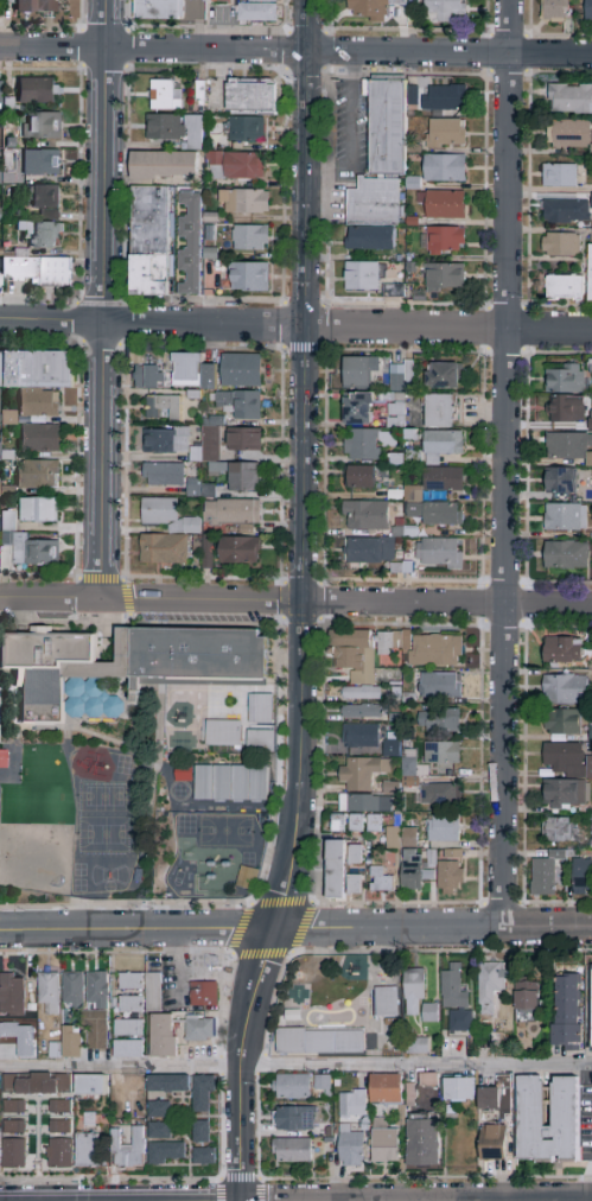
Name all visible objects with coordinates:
building: (216, 0)
building: (396, 0)
building: (5, 1)
building: (37, 6)
building: (158, 9)
building: (369, 9)
building: (444, 9)
building: (588, 9)
building: (257, 11)
building: (556, 11)
road: (295, 52)
building: (38, 90)
building: (166, 96)
building: (252, 97)
building: (443, 99)
building: (571, 99)
building: (42, 126)
building: (388, 127)
building: (176, 128)
building: (246, 129)
parking lot: (352, 129)
road: (352, 132)
building: (445, 134)
building: (571, 134)
road: (103, 161)
building: (40, 163)
road: (306, 163)
building: (164, 166)
building: (236, 166)
building: (445, 169)
building: (560, 176)
building: (591, 199)
building: (45, 201)
building: (243, 202)
building: (374, 203)
building: (445, 205)
building: (566, 211)
building: (44, 235)
building: (250, 239)
building: (368, 239)
building: (149, 241)
building: (445, 241)
building: (190, 242)
building: (561, 244)
building: (15, 268)
building: (56, 272)
building: (591, 274)
building: (362, 277)
building: (249, 278)
building: (444, 281)
building: (565, 288)
building: (393, 291)
road: (51, 322)
road: (202, 324)
road: (446, 329)
building: (591, 366)
building: (241, 370)
building: (149, 371)
building: (192, 371)
building: (361, 371)
building: (443, 376)
building: (401, 379)
building: (565, 379)
building: (37, 380)
building: (240, 405)
building: (163, 408)
building: (358, 408)
building: (562, 409)
building: (439, 412)
building: (6, 415)
building: (39, 438)
building: (243, 439)
building: (166, 441)
building: (206, 444)
building: (364, 444)
building: (441, 445)
building: (567, 446)
road: (100, 460)
road: (505, 464)
building: (39, 474)
building: (163, 475)
building: (244, 477)
building: (359, 477)
building: (560, 481)
building: (438, 482)
building: (1, 489)
building: (39, 510)
building: (233, 513)
building: (437, 513)
building: (167, 516)
building: (365, 516)
building: (565, 517)
building: (6, 519)
building: (206, 547)
building: (163, 549)
building: (34, 551)
building: (238, 551)
building: (370, 551)
building: (439, 553)
building: (566, 555)
road: (202, 578)
road: (120, 582)
road: (295, 603)
road: (284, 619)
road: (299, 629)
building: (425, 648)
building: (562, 650)
building: (356, 663)
building: (120, 666)
building: (438, 685)
building: (566, 690)
building: (260, 710)
building: (361, 712)
building: (562, 722)
building: (435, 723)
building: (588, 732)
building: (223, 733)
building: (359, 736)
building: (260, 741)
building: (389, 746)
road: (280, 749)
building: (441, 754)
building: (562, 757)
road: (323, 762)
building: (407, 764)
building: (588, 769)
building: (361, 773)
building: (231, 783)
building: (388, 786)
building: (564, 793)
building: (438, 794)
building: (364, 805)
building: (338, 824)
building: (355, 824)
building: (373, 824)
building: (443, 828)
building: (558, 830)
building: (401, 838)
building: (355, 854)
building: (336, 870)
building: (413, 870)
building: (451, 871)
building: (545, 872)
building: (247, 878)
building: (581, 878)
building: (380, 881)
building: (354, 887)
road: (295, 930)
road: (233, 954)
building: (355, 971)
building: (131, 983)
building: (490, 984)
building: (72, 990)
building: (153, 992)
building: (414, 992)
building: (49, 993)
building: (12, 995)
building: (203, 995)
building: (456, 998)
building: (386, 1002)
building: (526, 1003)
building: (131, 1005)
building: (591, 1009)
building: (96, 1011)
building: (565, 1012)
building: (431, 1013)
building: (127, 1029)
building: (199, 1029)
building: (164, 1036)
building: (71, 1042)
building: (322, 1042)
building: (418, 1047)
building: (52, 1049)
building: (127, 1049)
road: (221, 1062)
road: (242, 1063)
road: (262, 1063)
road: (295, 1068)
building: (428, 1080)
building: (37, 1084)
building: (167, 1084)
building: (322, 1084)
building: (91, 1087)
building: (292, 1087)
building: (386, 1089)
building: (459, 1089)
building: (408, 1093)
building: (203, 1094)
building: (496, 1095)
building: (530, 1101)
building: (352, 1105)
building: (15, 1106)
building: (61, 1106)
building: (159, 1111)
building: (294, 1119)
building: (15, 1127)
building: (59, 1127)
building: (159, 1131)
building: (202, 1132)
building: (424, 1143)
building: (492, 1144)
building: (350, 1146)
building: (384, 1146)
building: (88, 1150)
building: (129, 1150)
building: (292, 1151)
building: (14, 1154)
building: (61, 1154)
building: (166, 1154)
building: (204, 1156)
road: (240, 1181)

